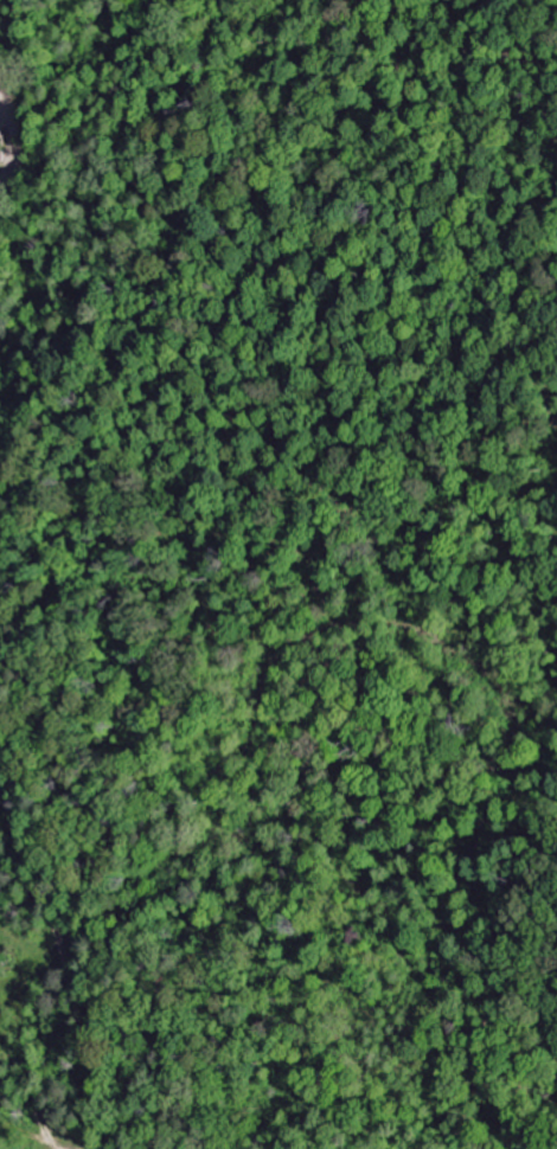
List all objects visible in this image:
road: (82, 918)

